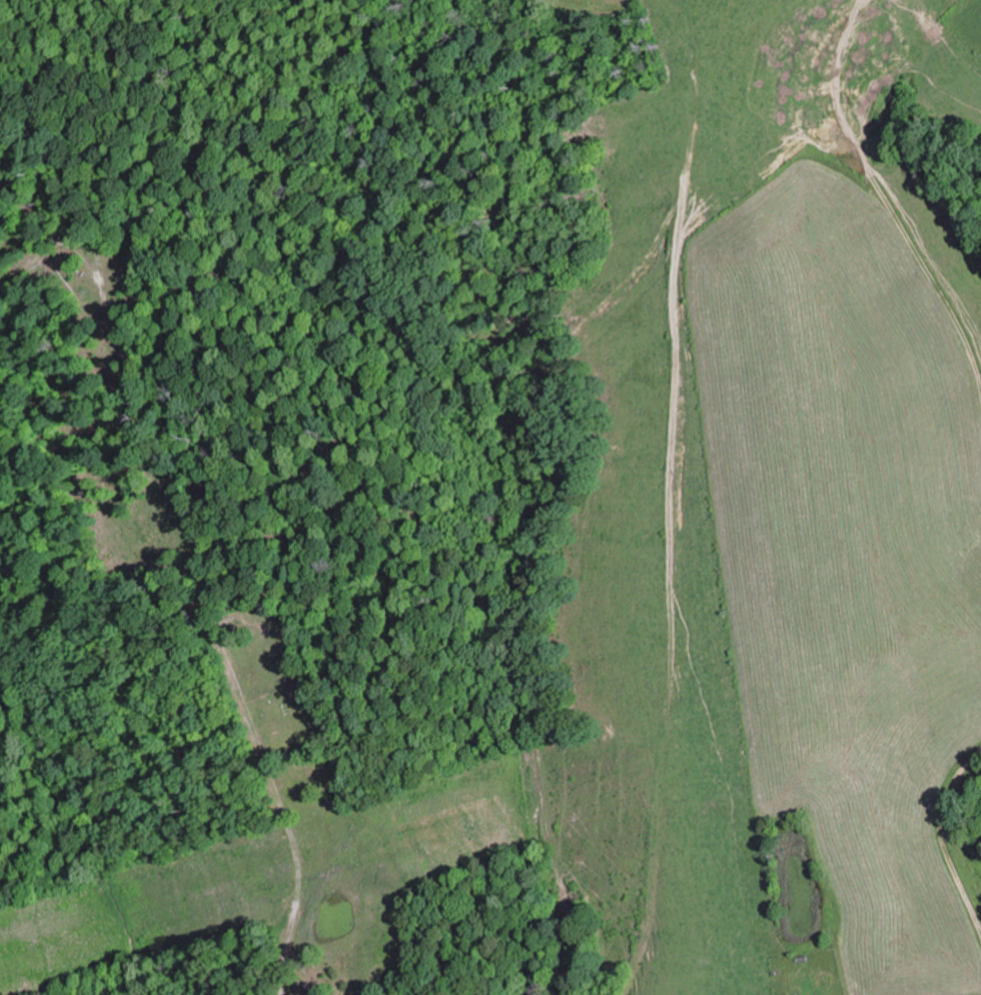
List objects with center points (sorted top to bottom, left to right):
building: (528, 989)

